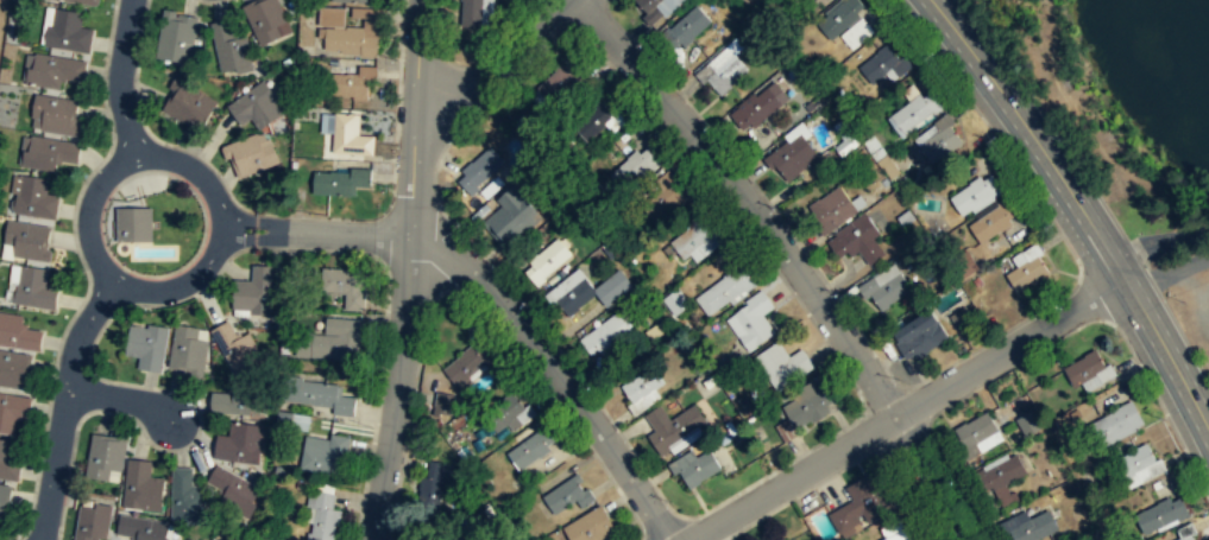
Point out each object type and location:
building: (351, 0)
building: (814, 0)
building: (83, 1)
building: (807, 1)
building: (657, 8)
building: (474, 13)
building: (332, 17)
building: (838, 17)
building: (264, 19)
building: (686, 27)
building: (68, 31)
building: (858, 33)
building: (176, 37)
building: (351, 40)
building: (231, 47)
building: (880, 64)
road: (495, 69)
building: (725, 69)
building: (53, 70)
road: (120, 80)
building: (558, 82)
building: (350, 84)
road: (397, 100)
building: (188, 103)
building: (758, 104)
building: (256, 106)
building: (917, 109)
building: (55, 114)
building: (598, 119)
street lamp: (712, 123)
building: (351, 135)
building: (940, 142)
building: (874, 150)
building: (49, 152)
building: (250, 154)
building: (792, 155)
building: (635, 166)
building: (480, 169)
building: (341, 180)
street lamp: (389, 186)
building: (974, 195)
building: (663, 196)
building: (34, 197)
street lamp: (777, 208)
building: (832, 209)
road: (1078, 209)
building: (511, 216)
building: (991, 220)
building: (133, 227)
road: (315, 233)
road: (389, 234)
building: (27, 239)
building: (697, 239)
building: (857, 239)
road: (1158, 246)
road: (786, 256)
building: (547, 260)
building: (1026, 267)
road: (408, 271)
road: (1167, 273)
building: (345, 285)
building: (886, 286)
building: (33, 287)
building: (613, 287)
road: (171, 290)
building: (254, 290)
building: (726, 290)
building: (572, 291)
street lamp: (839, 291)
street lamp: (529, 301)
building: (678, 301)
building: (753, 319)
building: (964, 319)
building: (18, 332)
building: (605, 333)
building: (921, 335)
building: (332, 338)
road: (382, 338)
building: (147, 345)
building: (187, 348)
building: (237, 348)
building: (468, 364)
building: (782, 364)
building: (15, 369)
building: (1087, 370)
road: (554, 371)
street lamp: (900, 377)
building: (643, 388)
building: (319, 394)
building: (239, 398)
road: (120, 400)
building: (443, 402)
building: (807, 402)
road: (64, 405)
road: (907, 409)
building: (12, 411)
building: (517, 413)
building: (1026, 423)
building: (1115, 423)
building: (670, 425)
building: (974, 432)
building: (239, 443)
building: (531, 447)
building: (325, 453)
building: (105, 455)
building: (8, 462)
building: (694, 464)
building: (1138, 465)
building: (1000, 472)
building: (141, 485)
building: (432, 487)
building: (235, 490)
building: (568, 494)
building: (185, 496)
street lamp: (670, 501)
building: (5, 503)
building: (854, 503)
building: (322, 515)
building: (1159, 515)
building: (93, 522)
building: (590, 526)
building: (1027, 526)
building: (141, 528)
building: (894, 531)
building: (1185, 532)
building: (237, 539)
building: (244, 539)

